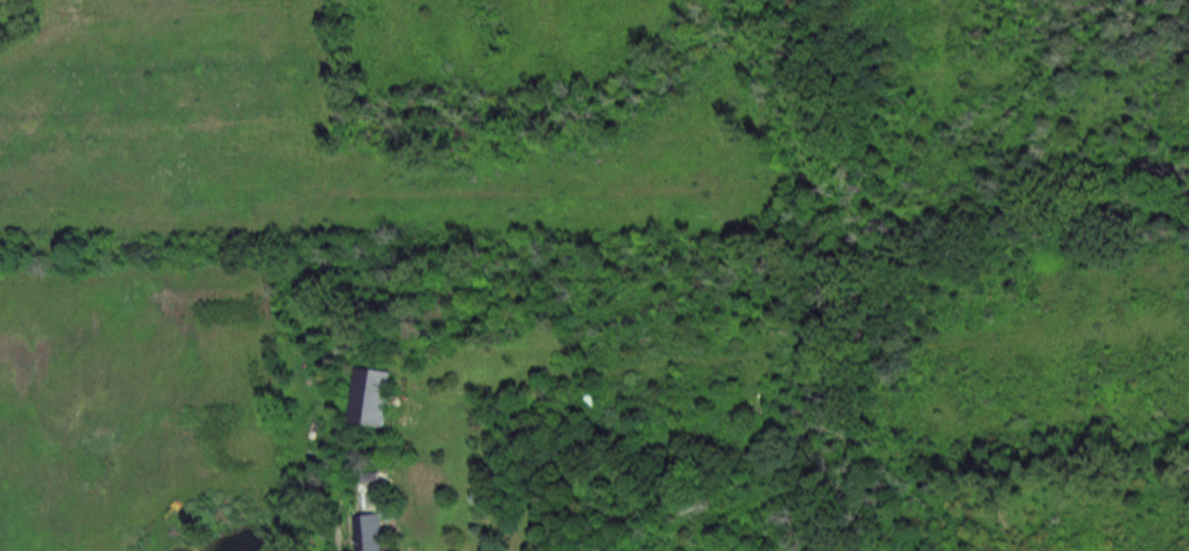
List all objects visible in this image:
building: (377, 398)
building: (372, 480)
building: (372, 532)

